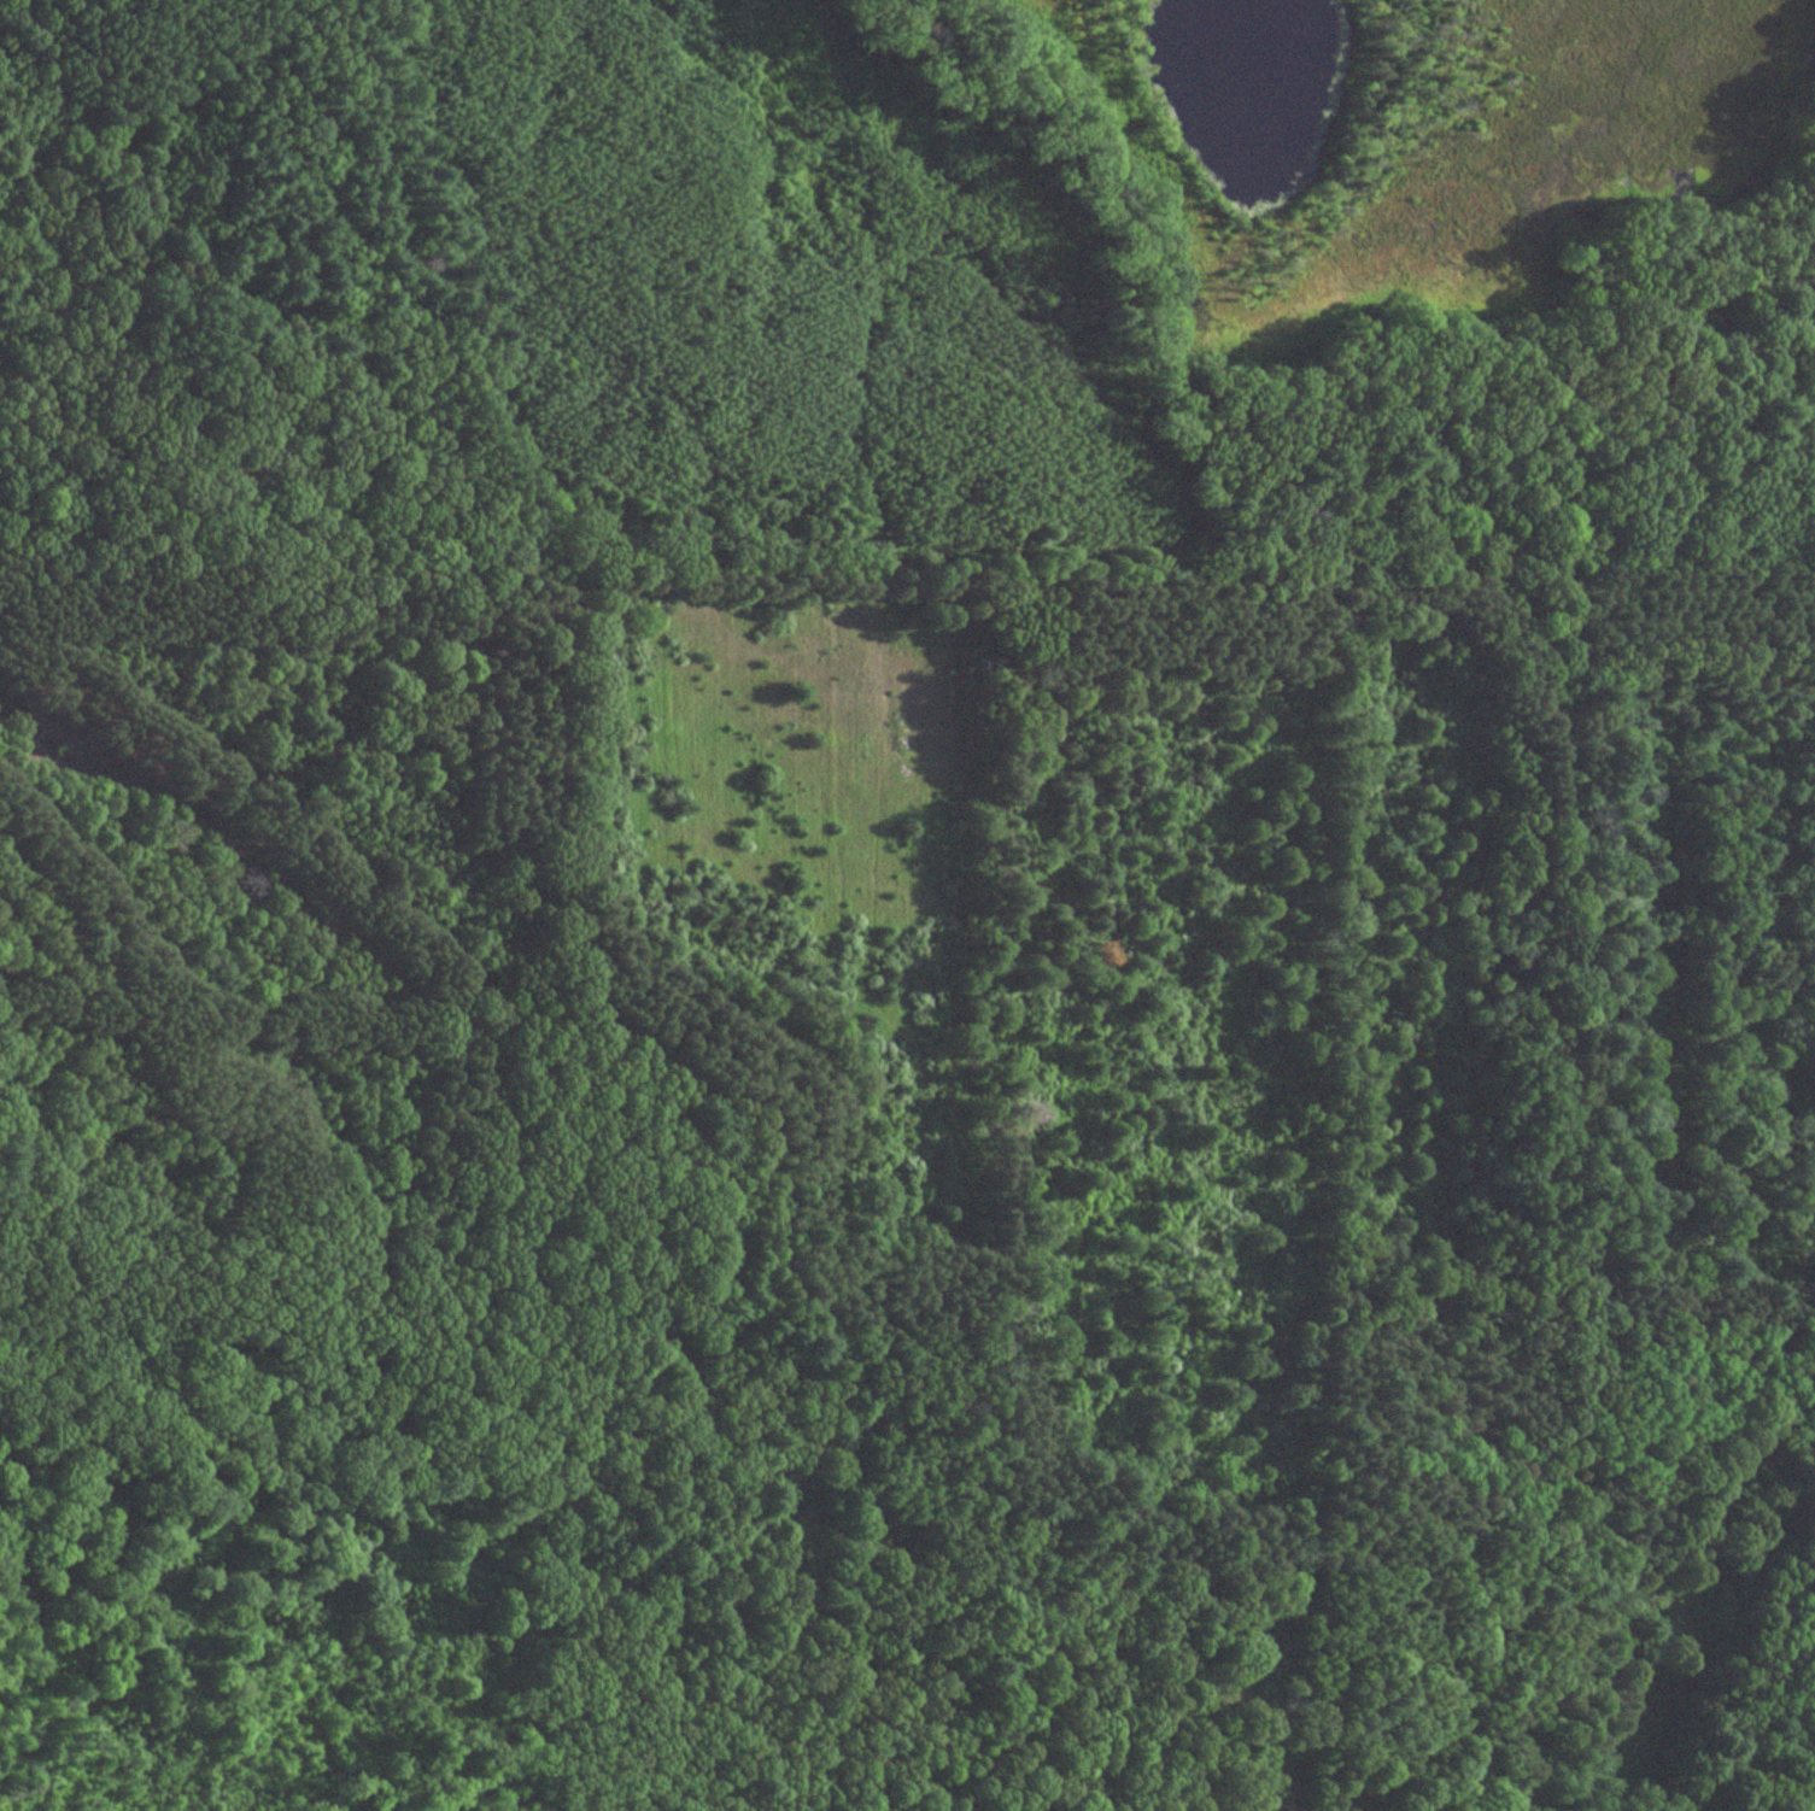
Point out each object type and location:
road: (165, 45)
road: (907, 543)

